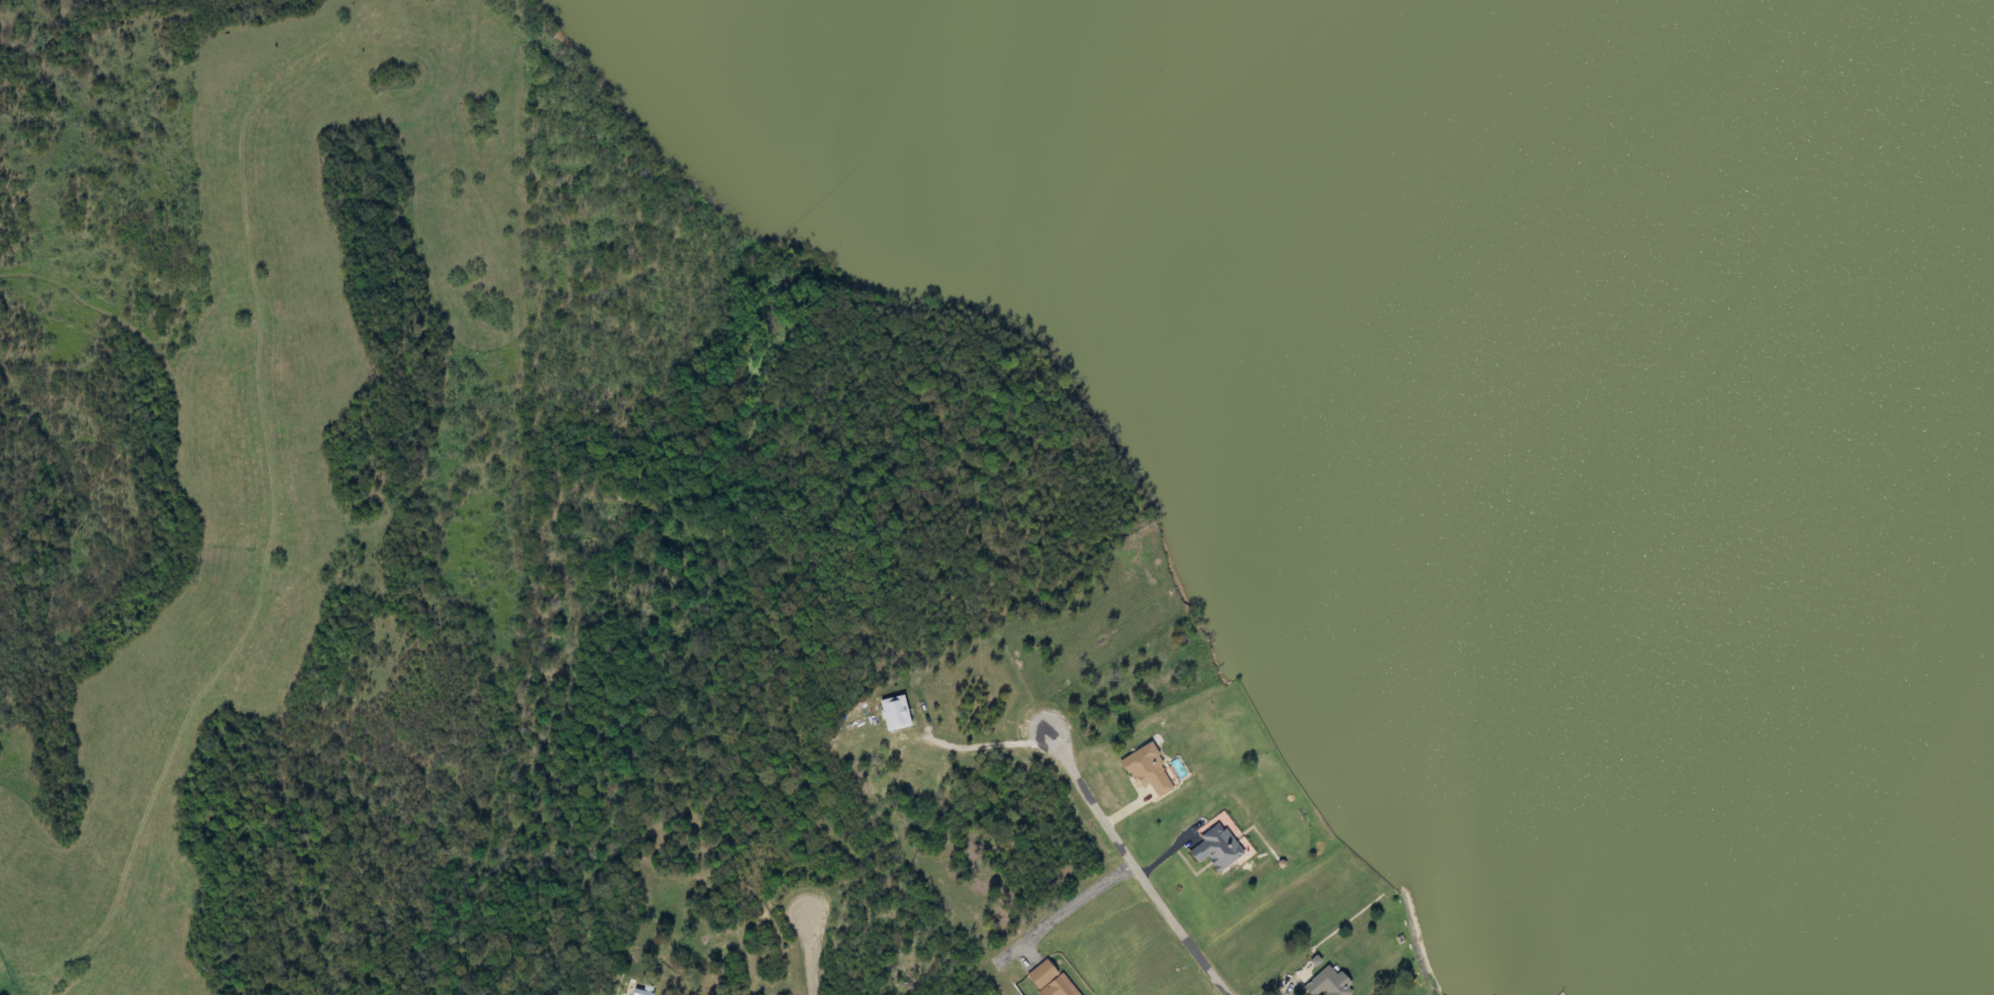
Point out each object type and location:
building: (1148, 770)
road: (1124, 812)
road: (1259, 836)
building: (1218, 845)
road: (1161, 857)
road: (1134, 870)
road: (1062, 910)
road: (809, 953)
building: (1052, 981)
building: (1327, 983)
road: (1289, 986)
building: (639, 989)
pier: (1561, 994)

